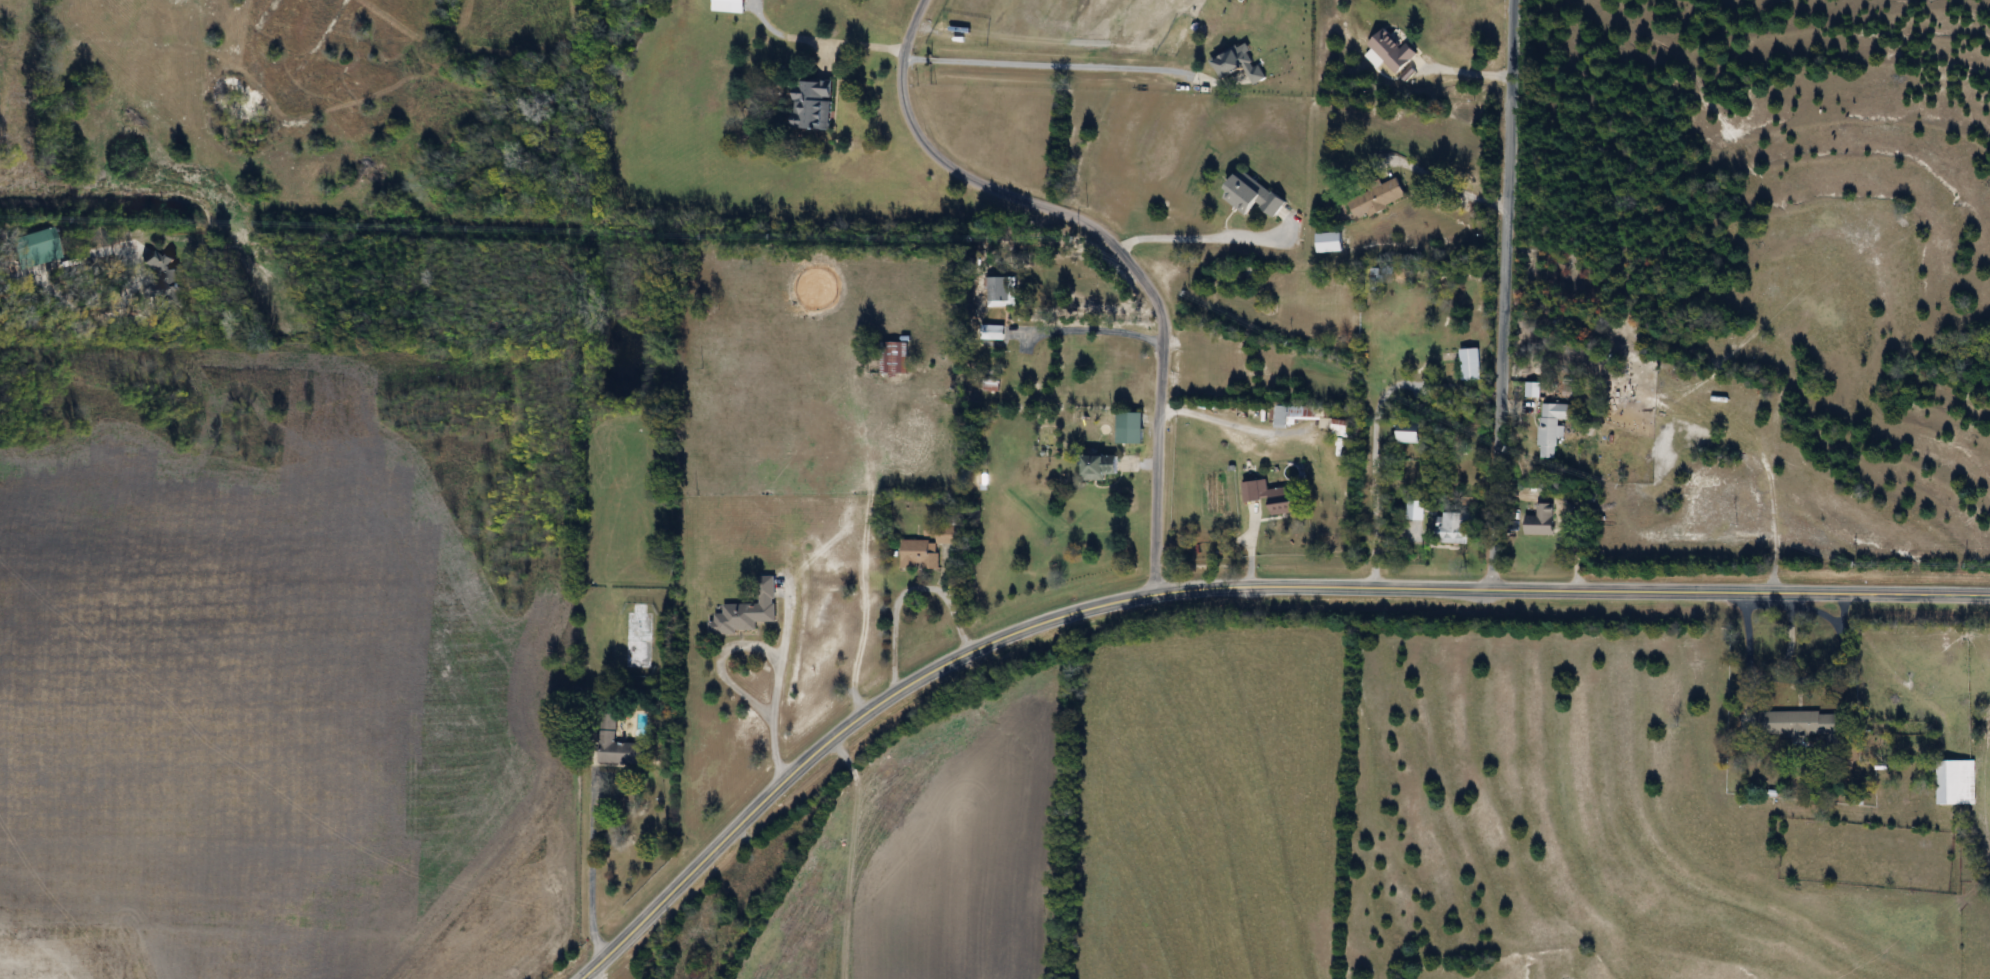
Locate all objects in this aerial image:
building: (729, 6)
road: (824, 35)
building: (1391, 50)
building: (1238, 63)
road: (1050, 64)
road: (1462, 73)
building: (813, 104)
road: (1446, 180)
building: (1252, 195)
building: (1378, 197)
road: (1203, 239)
building: (1329, 242)
road: (1109, 243)
road: (18, 277)
building: (165, 281)
road: (131, 286)
building: (1000, 289)
road: (1501, 294)
road: (1102, 330)
building: (894, 358)
building: (1470, 364)
building: (992, 384)
building: (1532, 390)
building: (1308, 413)
road: (1226, 416)
building: (1342, 425)
building: (1551, 427)
building: (1409, 432)
building: (1101, 466)
road: (1368, 476)
building: (1271, 496)
building: (1541, 521)
building: (1456, 528)
building: (946, 535)
building: (918, 555)
road: (1218, 586)
road: (904, 594)
road: (1844, 607)
building: (747, 612)
road: (1790, 633)
road: (1745, 645)
road: (1832, 655)
building: (1803, 724)
road: (770, 727)
building: (616, 744)
building: (1956, 781)
road: (590, 866)
road: (591, 975)

